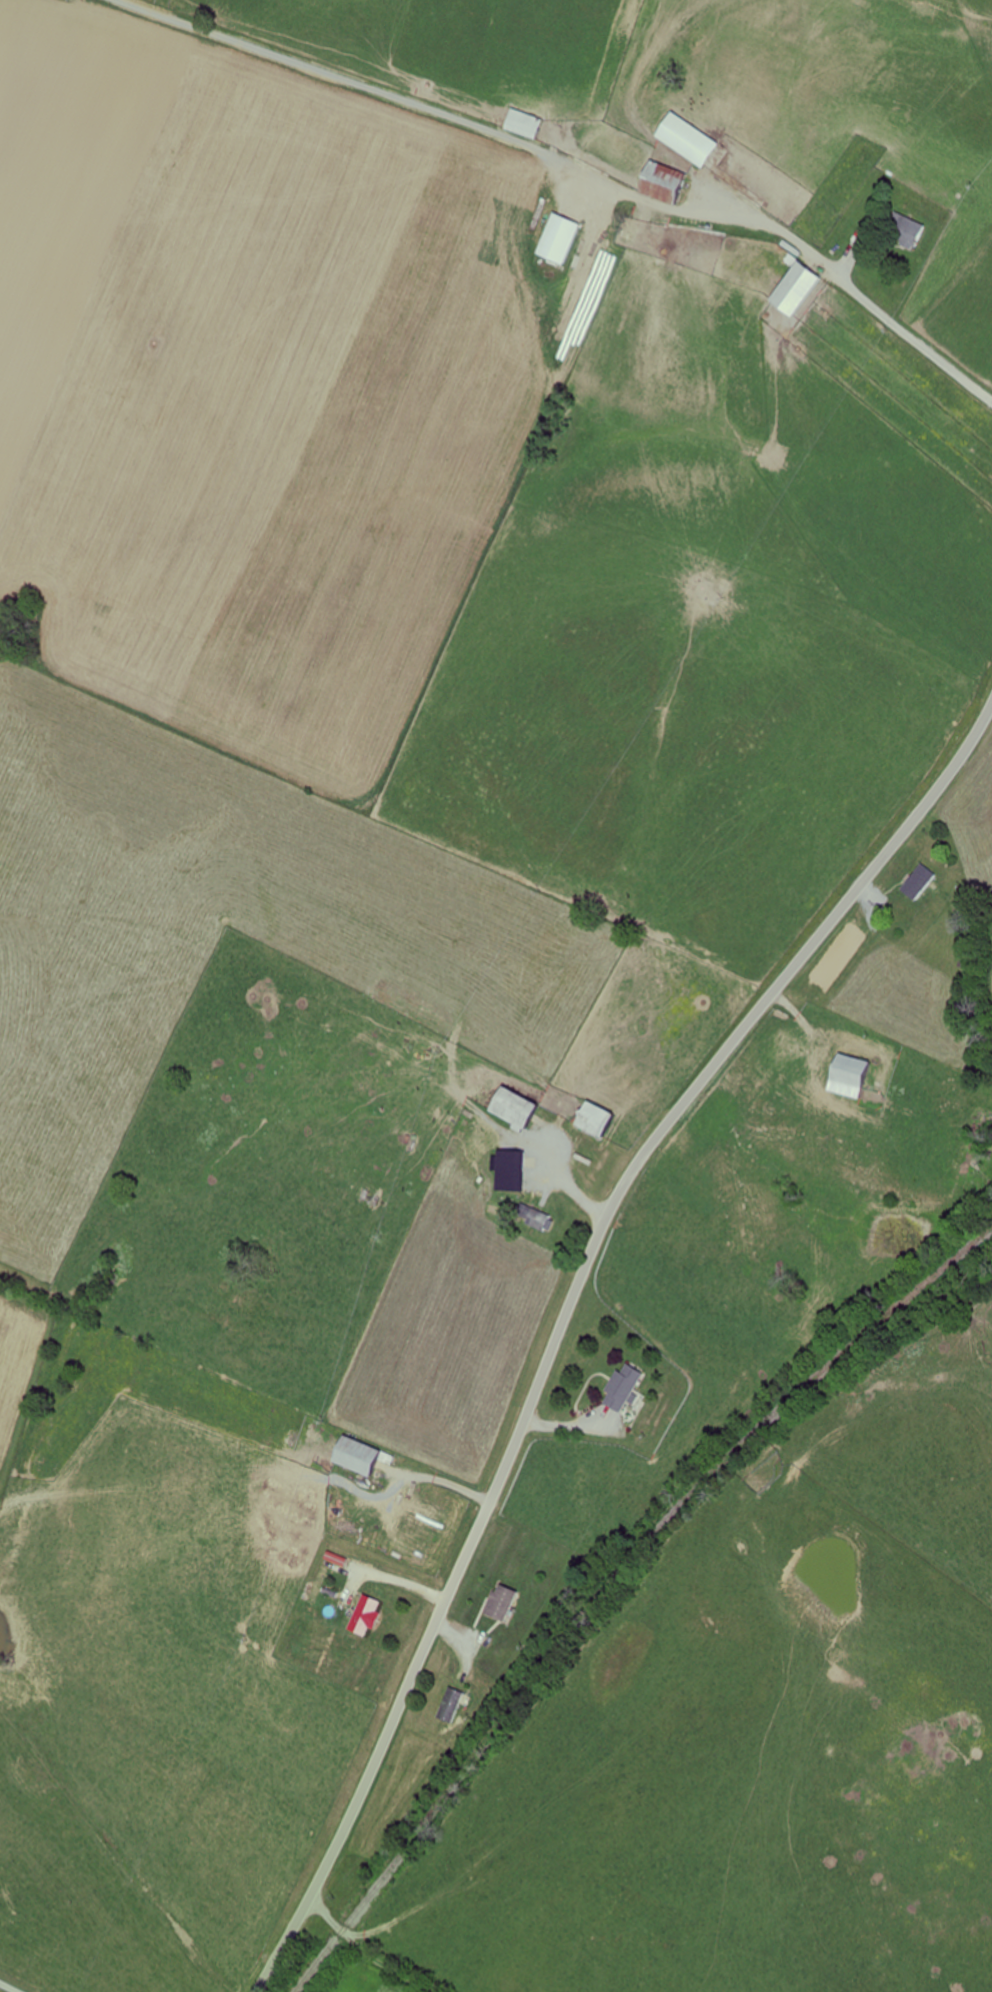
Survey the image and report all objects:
building: (522, 125)
building: (686, 139)
building: (659, 182)
building: (903, 231)
building: (557, 240)
building: (790, 290)
road: (922, 316)
building: (915, 883)
building: (847, 1076)
building: (510, 1106)
building: (593, 1119)
building: (539, 1219)
road: (567, 1314)
building: (619, 1388)
building: (353, 1455)
railway: (613, 1586)
building: (497, 1602)
building: (363, 1616)
building: (448, 1705)
road: (362, 1950)

